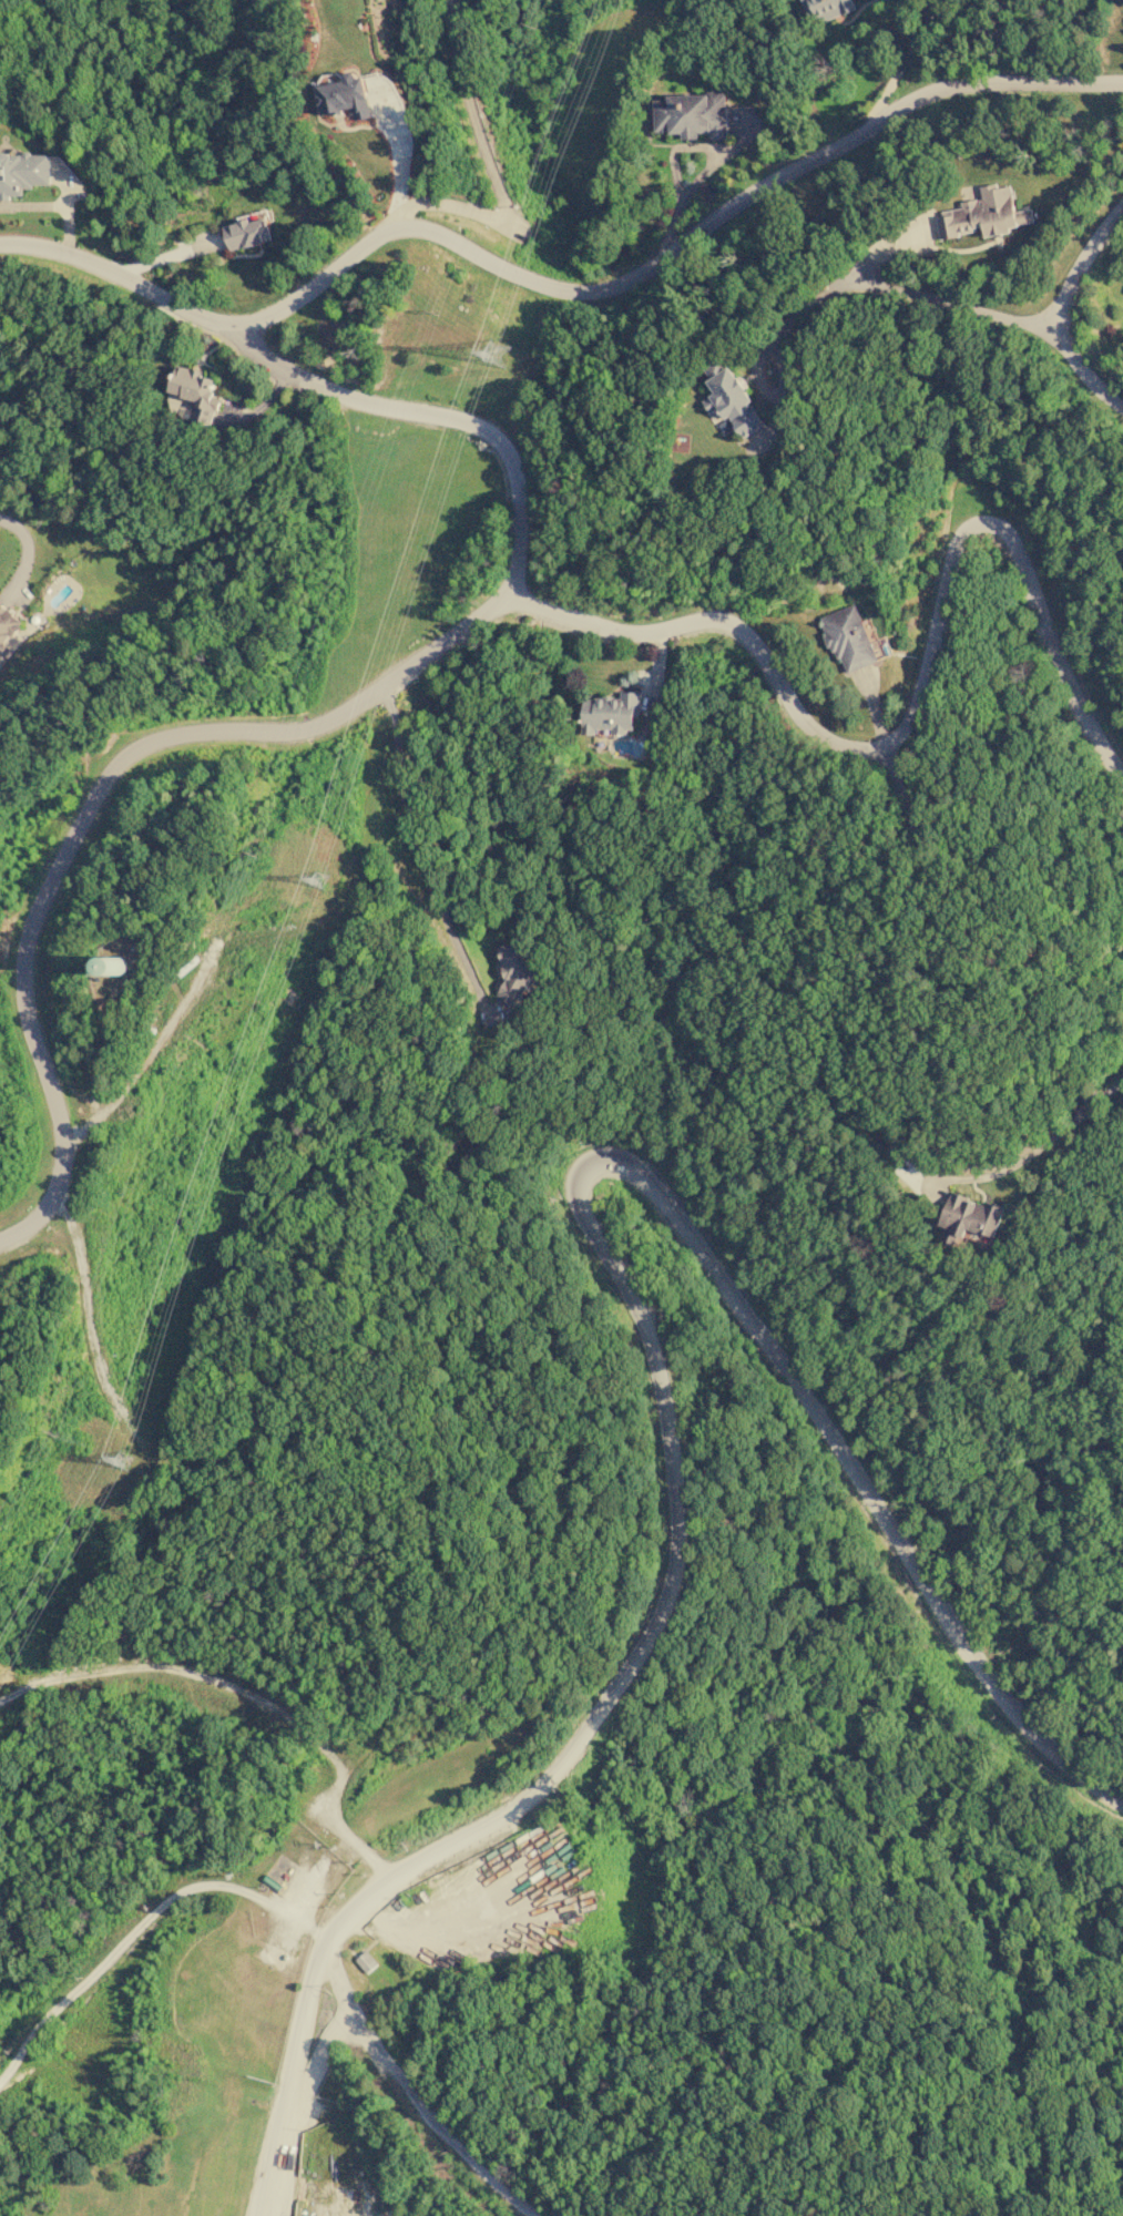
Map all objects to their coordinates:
building: (827, 9)
building: (345, 96)
building: (691, 115)
road: (708, 166)
road: (490, 171)
building: (22, 172)
building: (984, 214)
building: (247, 233)
road: (563, 293)
road: (957, 306)
road: (1062, 312)
power tower: (507, 317)
road: (763, 356)
building: (196, 391)
building: (732, 400)
road: (432, 419)
building: (7, 624)
building: (847, 637)
road: (918, 703)
building: (611, 713)
road: (95, 800)
power tower: (328, 848)
road: (427, 875)
water tower: (119, 967)
building: (514, 970)
road: (1050, 1138)
road: (654, 1360)
power tower: (120, 1460)
building: (366, 1961)
landfill: (330, 1978)
road: (289, 2086)

